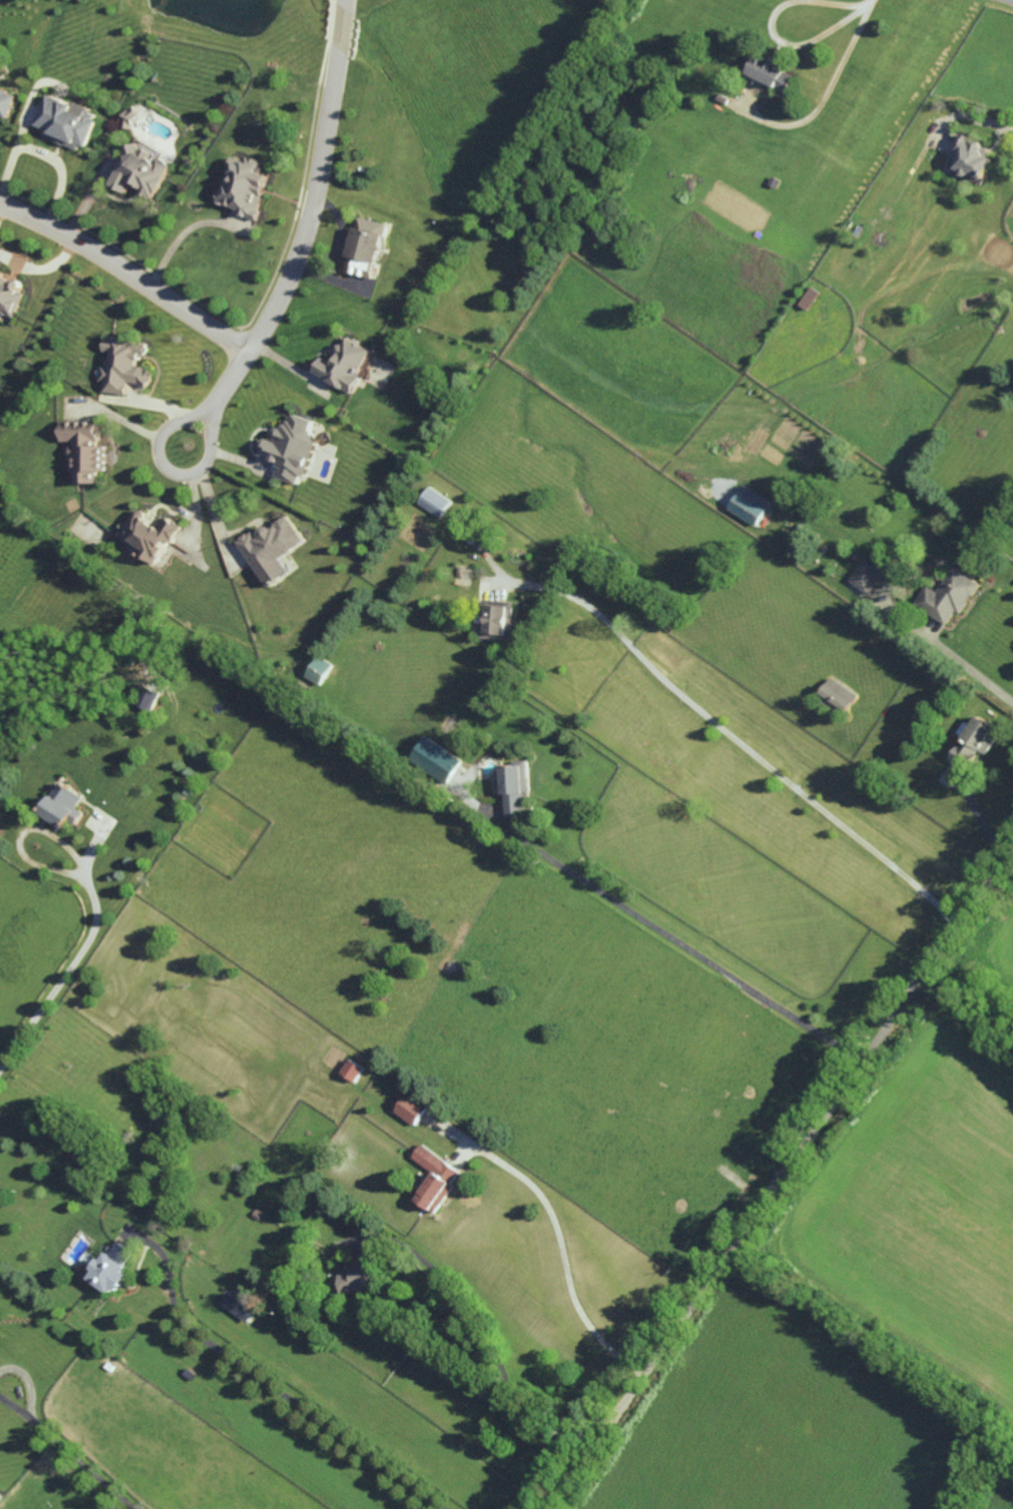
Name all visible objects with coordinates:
road: (1012, 0)
road: (770, 27)
building: (770, 74)
road: (826, 86)
building: (6, 103)
building: (128, 118)
building: (68, 122)
road: (989, 122)
road: (49, 154)
building: (972, 159)
building: (143, 170)
building: (245, 187)
road: (0, 207)
road: (310, 216)
road: (181, 236)
building: (366, 247)
road: (39, 269)
road: (125, 274)
building: (10, 295)
building: (807, 298)
building: (125, 364)
building: (346, 364)
building: (293, 448)
building: (86, 449)
road: (167, 469)
building: (435, 502)
building: (749, 505)
road: (216, 518)
building: (151, 534)
building: (272, 548)
building: (867, 575)
building: (949, 596)
building: (319, 669)
road: (970, 670)
road: (76, 687)
building: (838, 694)
building: (151, 698)
building: (974, 741)
road: (738, 744)
building: (438, 759)
building: (517, 789)
building: (63, 806)
road: (676, 940)
road: (79, 955)
building: (352, 1070)
building: (412, 1108)
road: (782, 1177)
building: (436, 1178)
road: (562, 1257)
building: (111, 1267)
building: (355, 1278)
building: (238, 1306)
road: (490, 1343)
road: (280, 1382)
road: (66, 1452)
building: (1, 1497)

